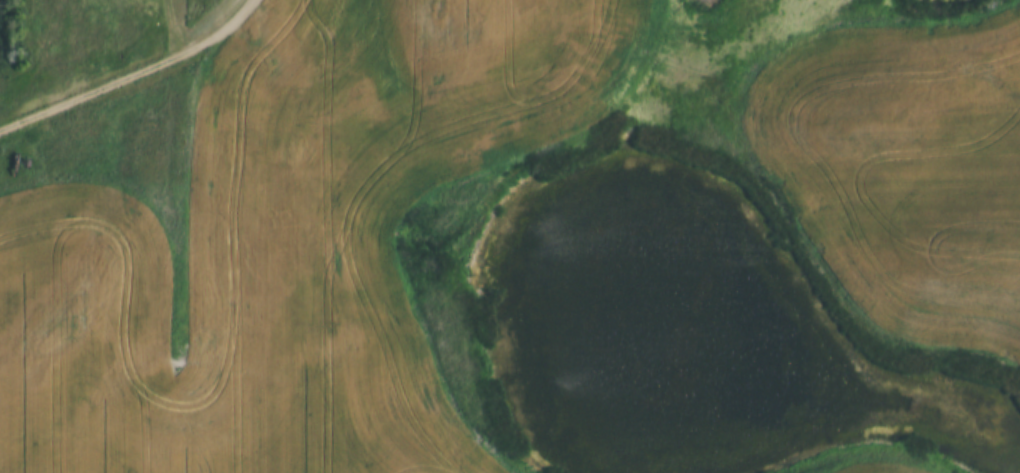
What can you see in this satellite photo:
road: (128, 69)
road: (166, 109)

